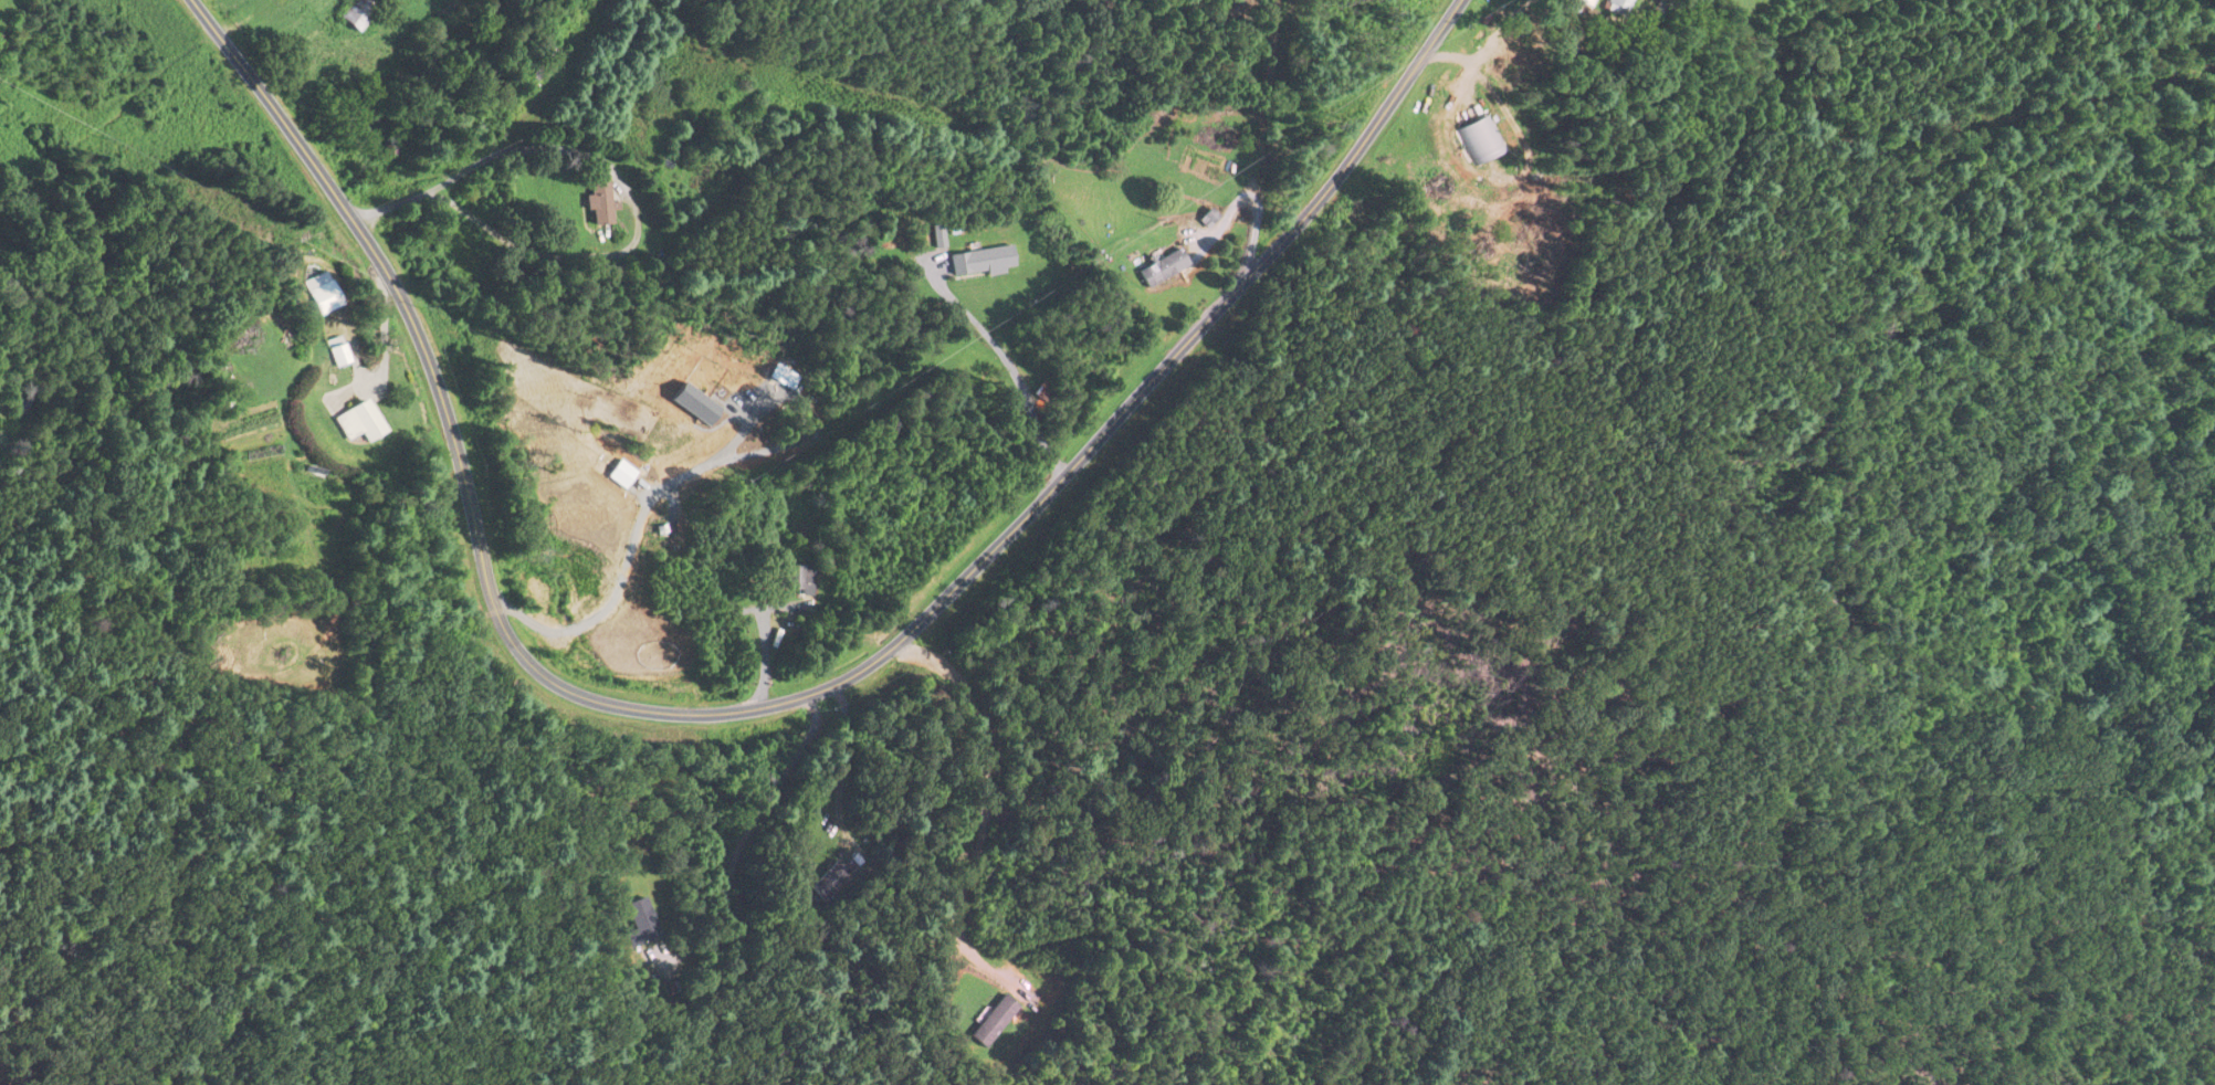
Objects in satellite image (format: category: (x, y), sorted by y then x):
building: (1583, 2)
building: (1617, 7)
building: (357, 14)
building: (546, 61)
building: (1479, 140)
road: (619, 176)
building: (600, 206)
building: (980, 261)
building: (1163, 268)
building: (322, 293)
building: (337, 355)
road: (1004, 359)
building: (1044, 390)
building: (359, 422)
road: (683, 474)
building: (663, 535)
building: (796, 579)
road: (764, 643)
road: (765, 705)
road: (842, 767)
road: (990, 792)
building: (831, 882)
building: (642, 920)
building: (995, 1022)

